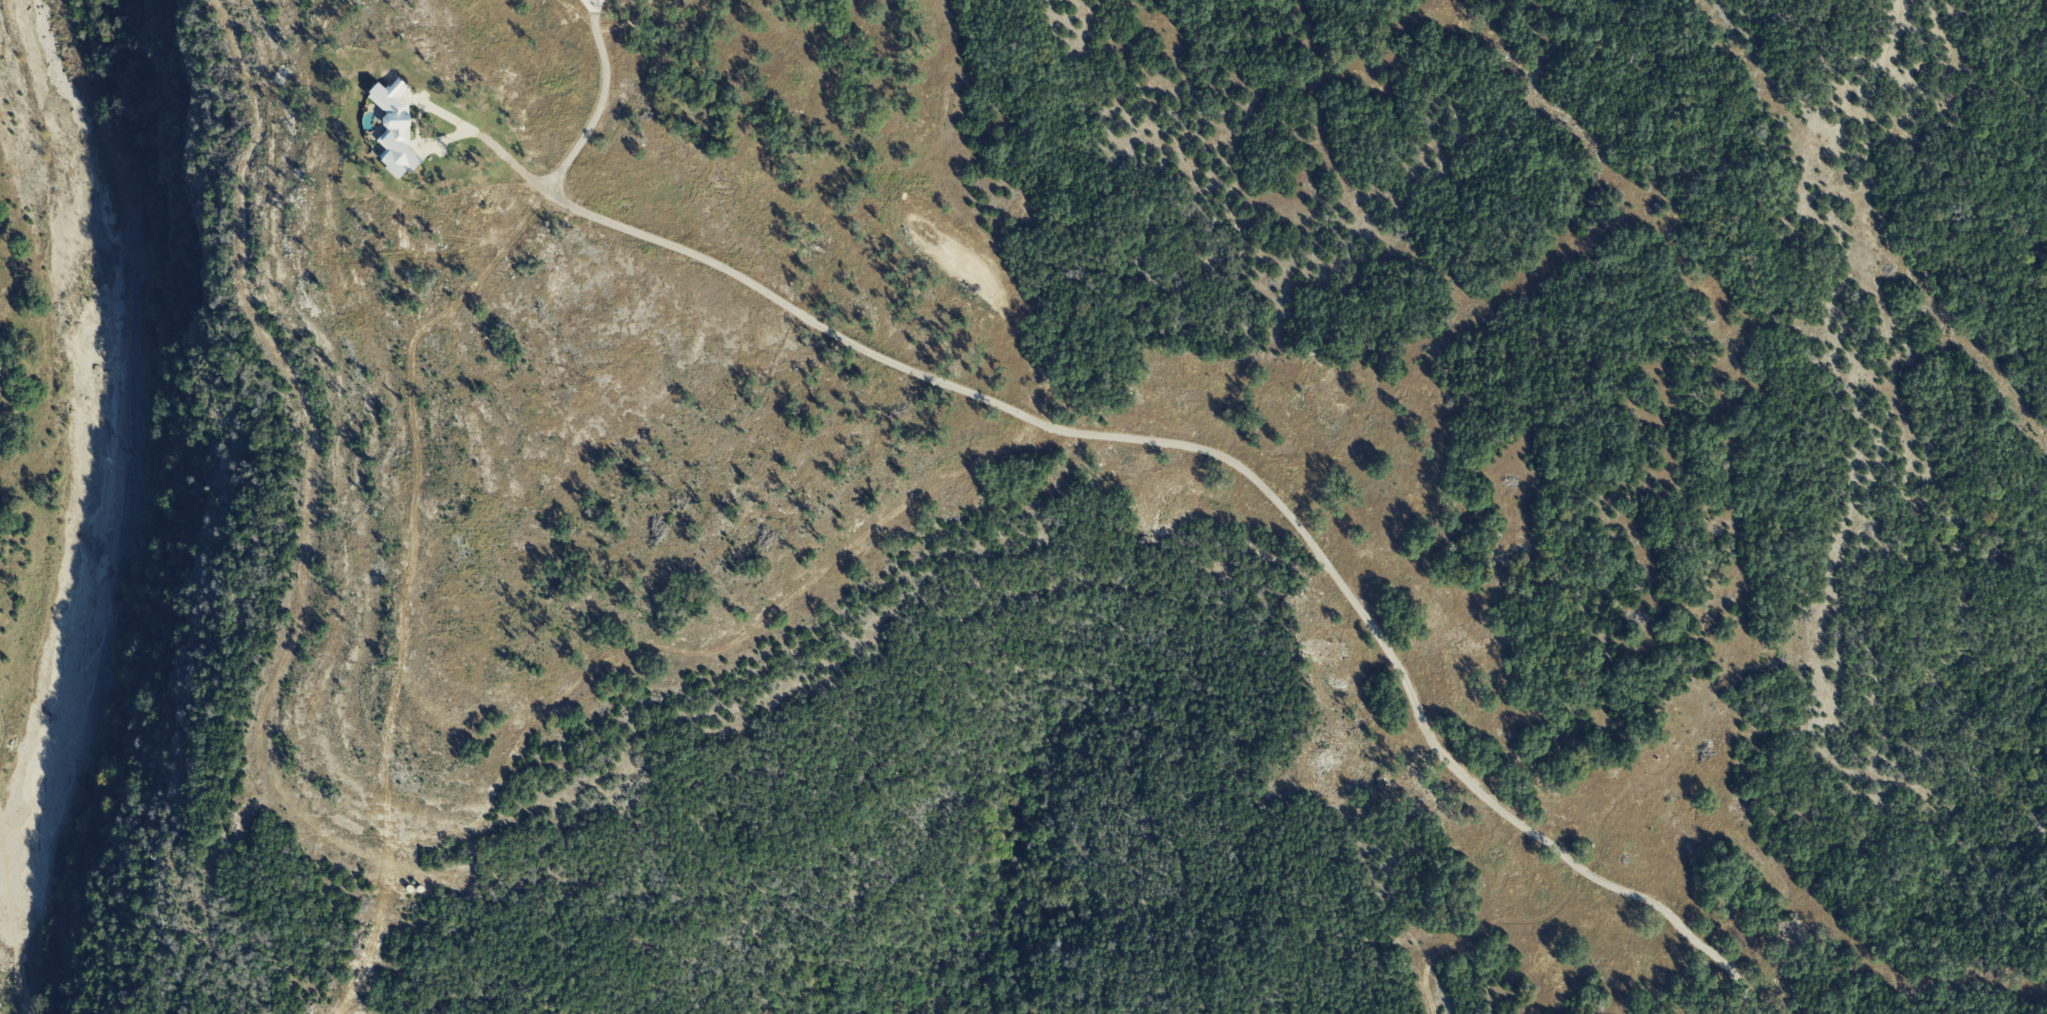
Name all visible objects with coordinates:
building: (591, 4)
road: (600, 102)
building: (394, 128)
river: (91, 445)
road: (1198, 447)
road: (1965, 591)

